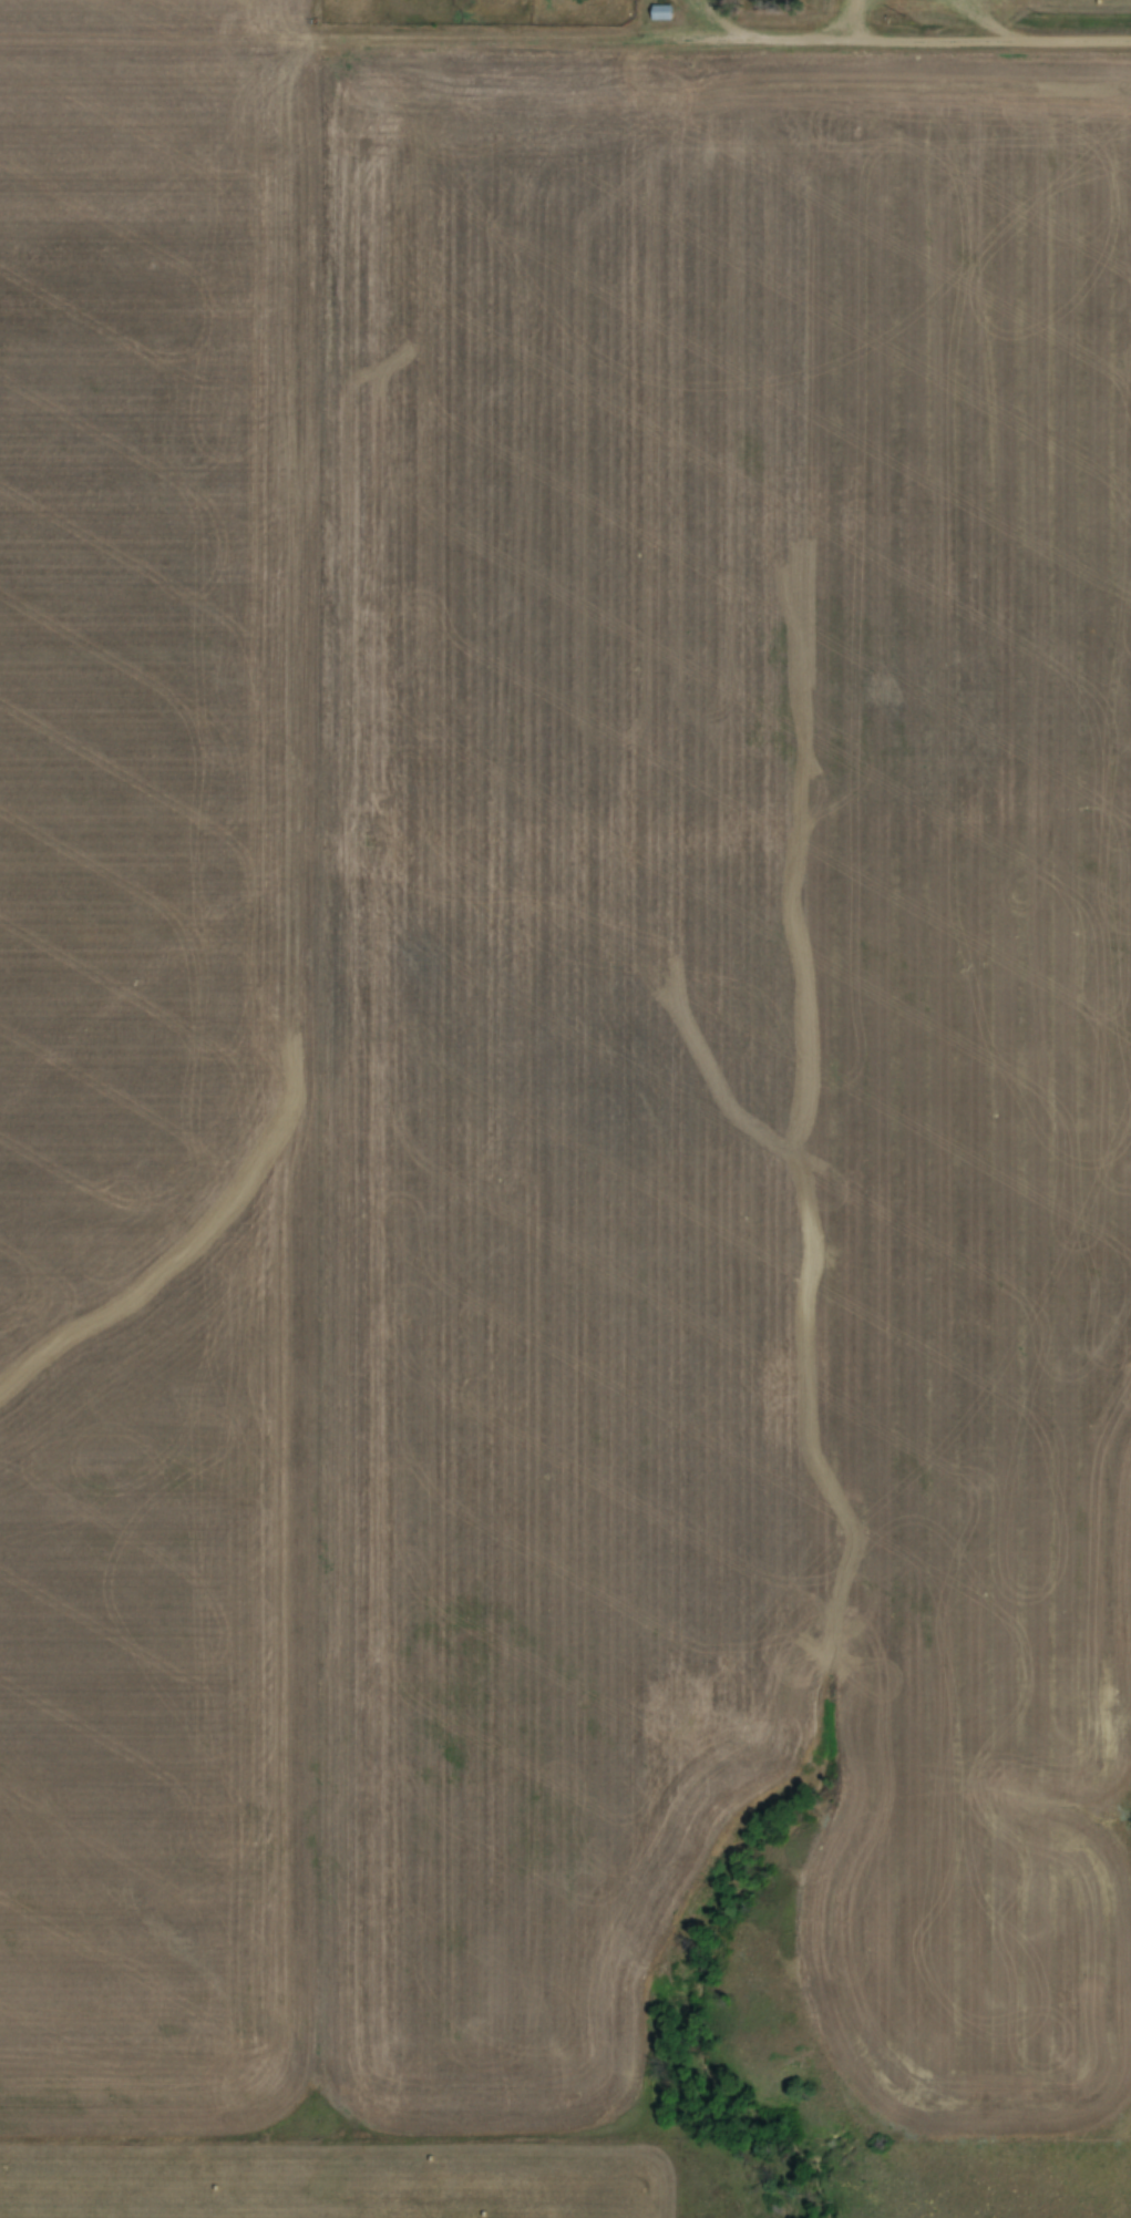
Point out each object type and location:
building: (660, 12)
road: (565, 97)

